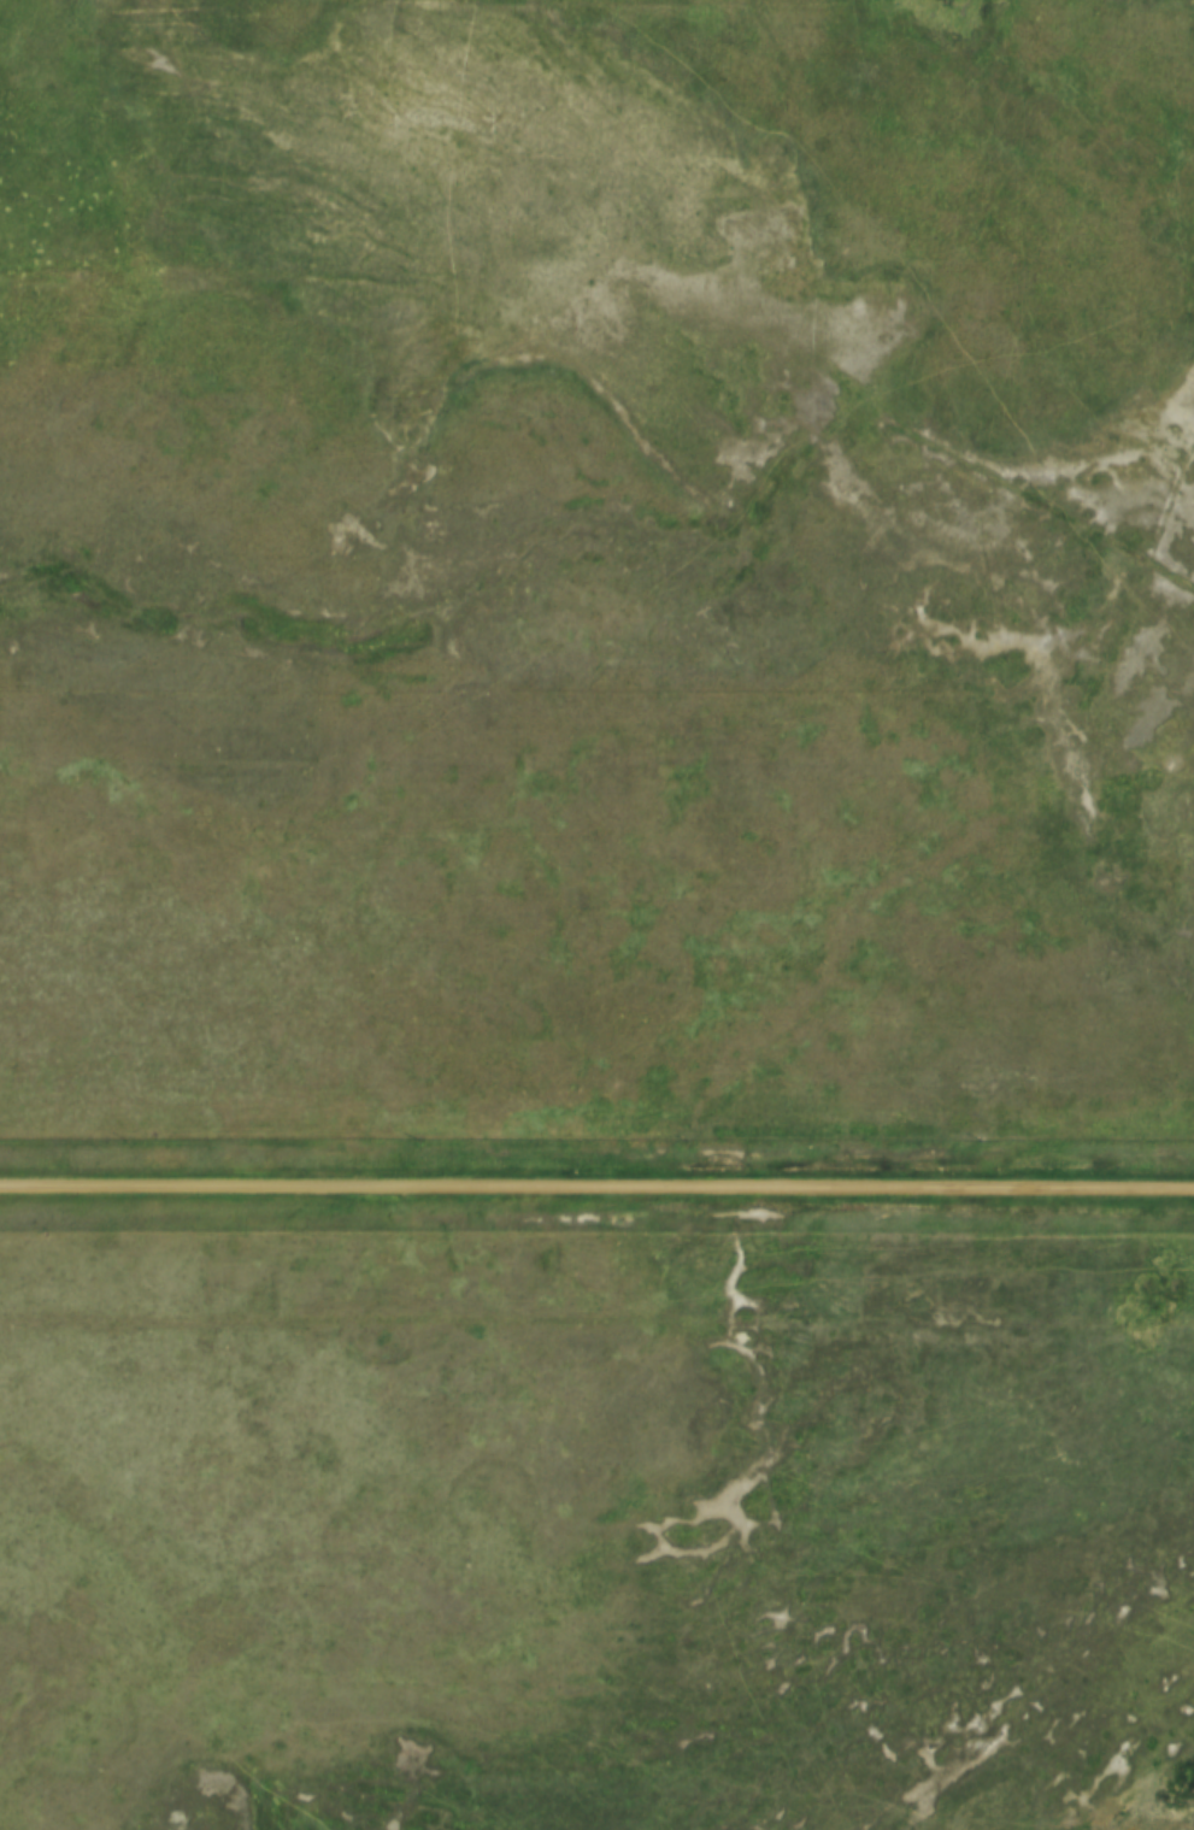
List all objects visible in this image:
road: (596, 1188)

